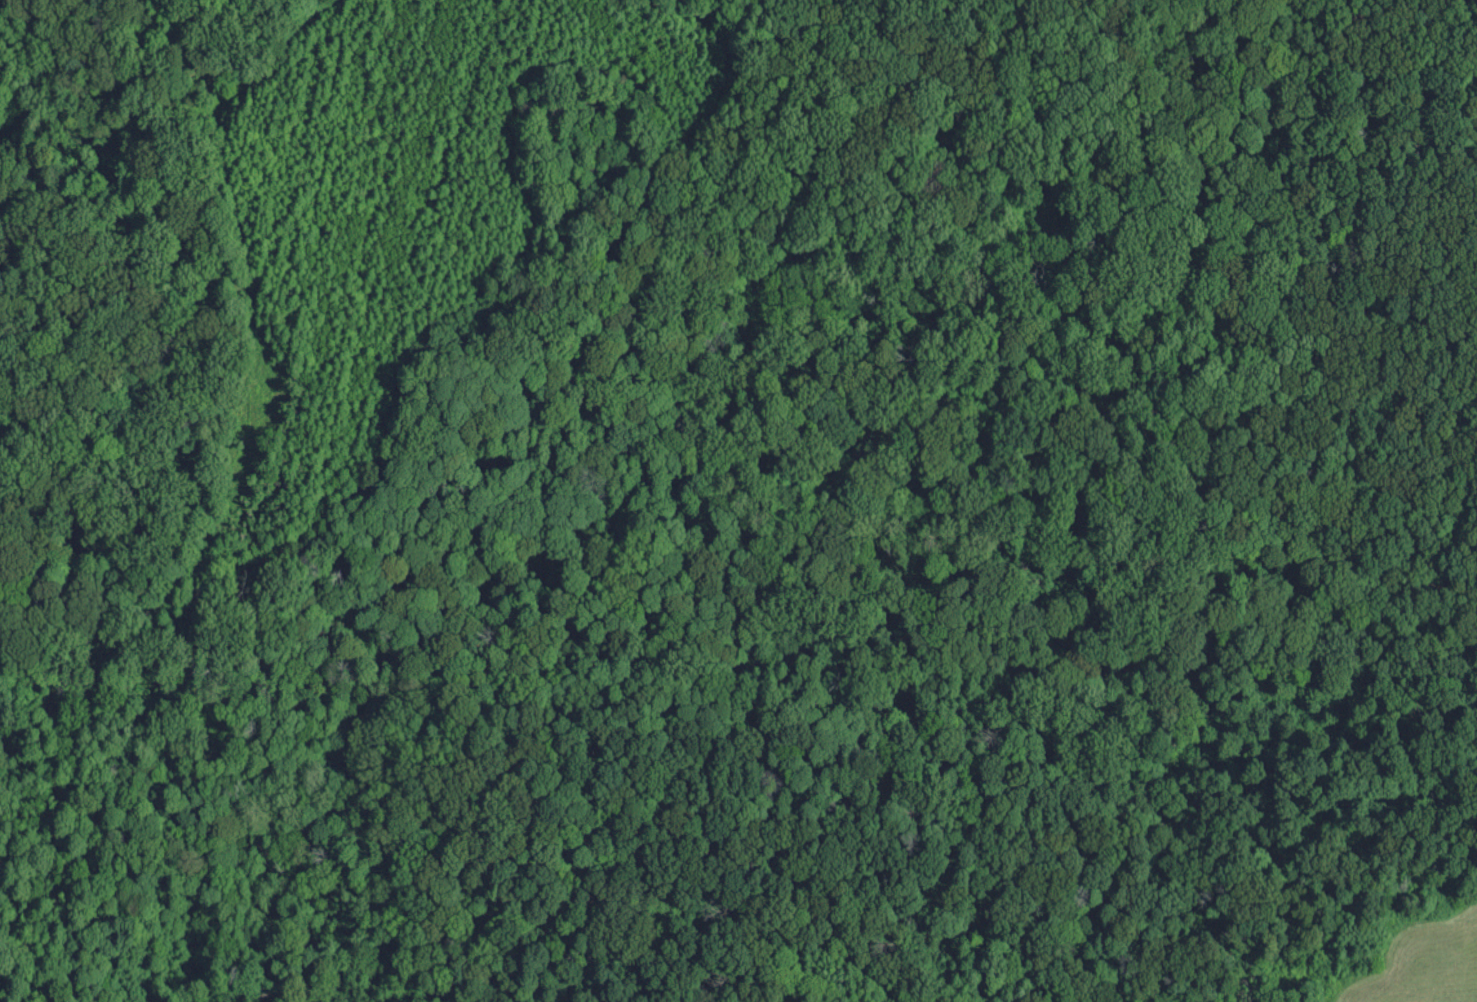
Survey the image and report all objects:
building: (1102, 971)

